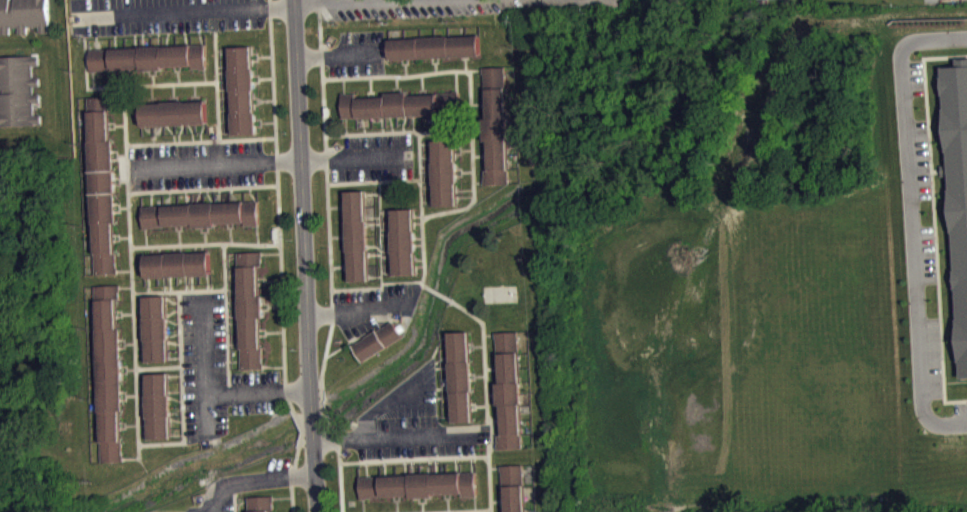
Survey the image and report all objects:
road: (305, 0)
building: (822, 1)
parking lot: (942, 1)
road: (948, 1)
parking lot: (459, 8)
road: (182, 11)
building: (24, 15)
parking lot: (163, 16)
road: (215, 20)
road: (84, 26)
building: (434, 46)
road: (257, 53)
parking lot: (356, 53)
road: (338, 54)
road: (261, 56)
building: (148, 57)
road: (464, 58)
road: (408, 61)
road: (434, 62)
road: (913, 63)
road: (85, 64)
road: (406, 64)
road: (465, 64)
road: (435, 67)
road: (180, 68)
road: (156, 72)
road: (178, 72)
road: (406, 74)
road: (153, 75)
road: (205, 75)
road: (259, 78)
road: (266, 78)
road: (456, 79)
road: (421, 84)
road: (344, 85)
road: (100, 86)
road: (396, 86)
road: (401, 87)
road: (370, 88)
road: (173, 89)
road: (195, 89)
building: (243, 90)
road: (425, 90)
building: (19, 91)
road: (152, 91)
road: (374, 92)
road: (174, 96)
road: (195, 96)
road: (153, 98)
road: (264, 100)
road: (482, 100)
road: (258, 102)
road: (480, 103)
building: (400, 104)
road: (471, 110)
building: (174, 112)
road: (219, 113)
road: (124, 114)
road: (268, 122)
road: (403, 122)
road: (413, 122)
road: (261, 123)
road: (434, 123)
road: (364, 124)
road: (382, 124)
road: (391, 124)
road: (346, 126)
building: (495, 126)
road: (470, 131)
road: (416, 132)
road: (426, 143)
road: (326, 145)
road: (461, 149)
road: (467, 149)
road: (484, 152)
road: (481, 155)
road: (355, 157)
parking lot: (371, 157)
road: (426, 157)
road: (213, 163)
parking lot: (195, 165)
road: (427, 166)
road: (940, 170)
building: (444, 171)
road: (468, 171)
road: (919, 171)
road: (462, 172)
road: (427, 181)
building: (102, 184)
road: (428, 187)
road: (203, 188)
road: (466, 190)
road: (372, 193)
building: (958, 193)
road: (466, 195)
road: (428, 201)
road: (342, 202)
road: (338, 205)
road: (124, 206)
road: (380, 206)
road: (119, 207)
road: (464, 207)
road: (386, 212)
building: (201, 213)
road: (419, 214)
road: (373, 215)
road: (933, 219)
road: (419, 222)
road: (374, 223)
road: (910, 223)
road: (230, 226)
road: (179, 229)
road: (387, 229)
road: (424, 230)
road: (205, 231)
road: (343, 233)
road: (231, 234)
road: (258, 234)
building: (357, 234)
road: (387, 234)
road: (340, 235)
road: (119, 236)
road: (180, 236)
road: (420, 236)
road: (124, 237)
road: (146, 237)
road: (206, 237)
building: (404, 240)
road: (420, 244)
road: (154, 245)
road: (376, 245)
road: (182, 247)
road: (203, 247)
road: (174, 248)
road: (196, 248)
parking lot: (927, 248)
road: (160, 249)
road: (152, 250)
road: (387, 250)
road: (273, 253)
road: (374, 254)
road: (301, 256)
road: (387, 256)
road: (230, 257)
road: (282, 257)
road: (421, 259)
building: (177, 263)
road: (224, 265)
road: (341, 265)
road: (421, 266)
road: (344, 268)
road: (124, 269)
road: (388, 271)
road: (232, 273)
road: (376, 276)
road: (264, 279)
road: (273, 279)
road: (209, 281)
road: (187, 282)
road: (192, 282)
road: (165, 283)
road: (170, 283)
road: (150, 284)
road: (126, 286)
road: (232, 290)
road: (201, 291)
road: (437, 291)
road: (232, 300)
road: (172, 301)
road: (138, 303)
road: (269, 304)
road: (276, 305)
parking lot: (375, 307)
building: (251, 309)
road: (172, 310)
road: (139, 311)
road: (226, 312)
road: (360, 312)
road: (123, 313)
road: (233, 315)
road: (119, 316)
road: (172, 321)
road: (234, 322)
road: (139, 325)
building: (155, 327)
road: (333, 327)
road: (180, 328)
road: (276, 330)
road: (267, 331)
road: (140, 332)
road: (173, 333)
road: (489, 334)
road: (360, 336)
building: (379, 339)
road: (126, 342)
road: (173, 342)
road: (203, 343)
road: (235, 343)
road: (437, 344)
road: (472, 345)
road: (477, 345)
road: (124, 346)
road: (140, 347)
road: (341, 347)
road: (141, 354)
road: (174, 357)
road: (440, 358)
road: (136, 359)
road: (236, 360)
road: (192, 365)
road: (275, 365)
road: (441, 367)
road: (425, 368)
road: (492, 368)
road: (127, 369)
road: (416, 369)
road: (484, 370)
road: (495, 370)
parking lot: (218, 372)
building: (110, 373)
road: (126, 373)
road: (176, 374)
road: (474, 375)
road: (479, 375)
building: (459, 376)
road: (142, 380)
road: (142, 387)
road: (230, 388)
road: (426, 388)
road: (442, 388)
road: (176, 390)
building: (508, 390)
road: (233, 391)
road: (490, 393)
road: (494, 393)
road: (128, 395)
road: (443, 396)
road: (177, 398)
road: (127, 399)
road: (391, 400)
road: (143, 402)
road: (475, 404)
building: (159, 405)
road: (480, 405)
road: (426, 406)
road: (143, 409)
road: (177, 409)
road: (443, 417)
road: (178, 419)
road: (497, 419)
parking lot: (413, 422)
road: (498, 422)
road: (144, 423)
road: (128, 424)
road: (184, 426)
road: (125, 428)
road: (144, 431)
road: (490, 434)
road: (178, 435)
road: (399, 438)
road: (196, 440)
road: (493, 446)
road: (450, 456)
road: (361, 461)
road: (472, 463)
road: (457, 464)
road: (429, 465)
road: (436, 465)
road: (413, 466)
road: (385, 467)
road: (405, 467)
road: (495, 467)
road: (340, 478)
road: (247, 481)
building: (418, 484)
building: (513, 487)
road: (451, 496)
road: (282, 497)
road: (448, 499)
road: (397, 500)
road: (425, 500)
road: (492, 500)
road: (243, 501)
road: (236, 502)
building: (261, 503)
road: (422, 503)
road: (501, 503)
road: (475, 504)
road: (362, 505)
parking lot: (227, 506)
road: (397, 506)
road: (211, 507)
road: (456, 510)

